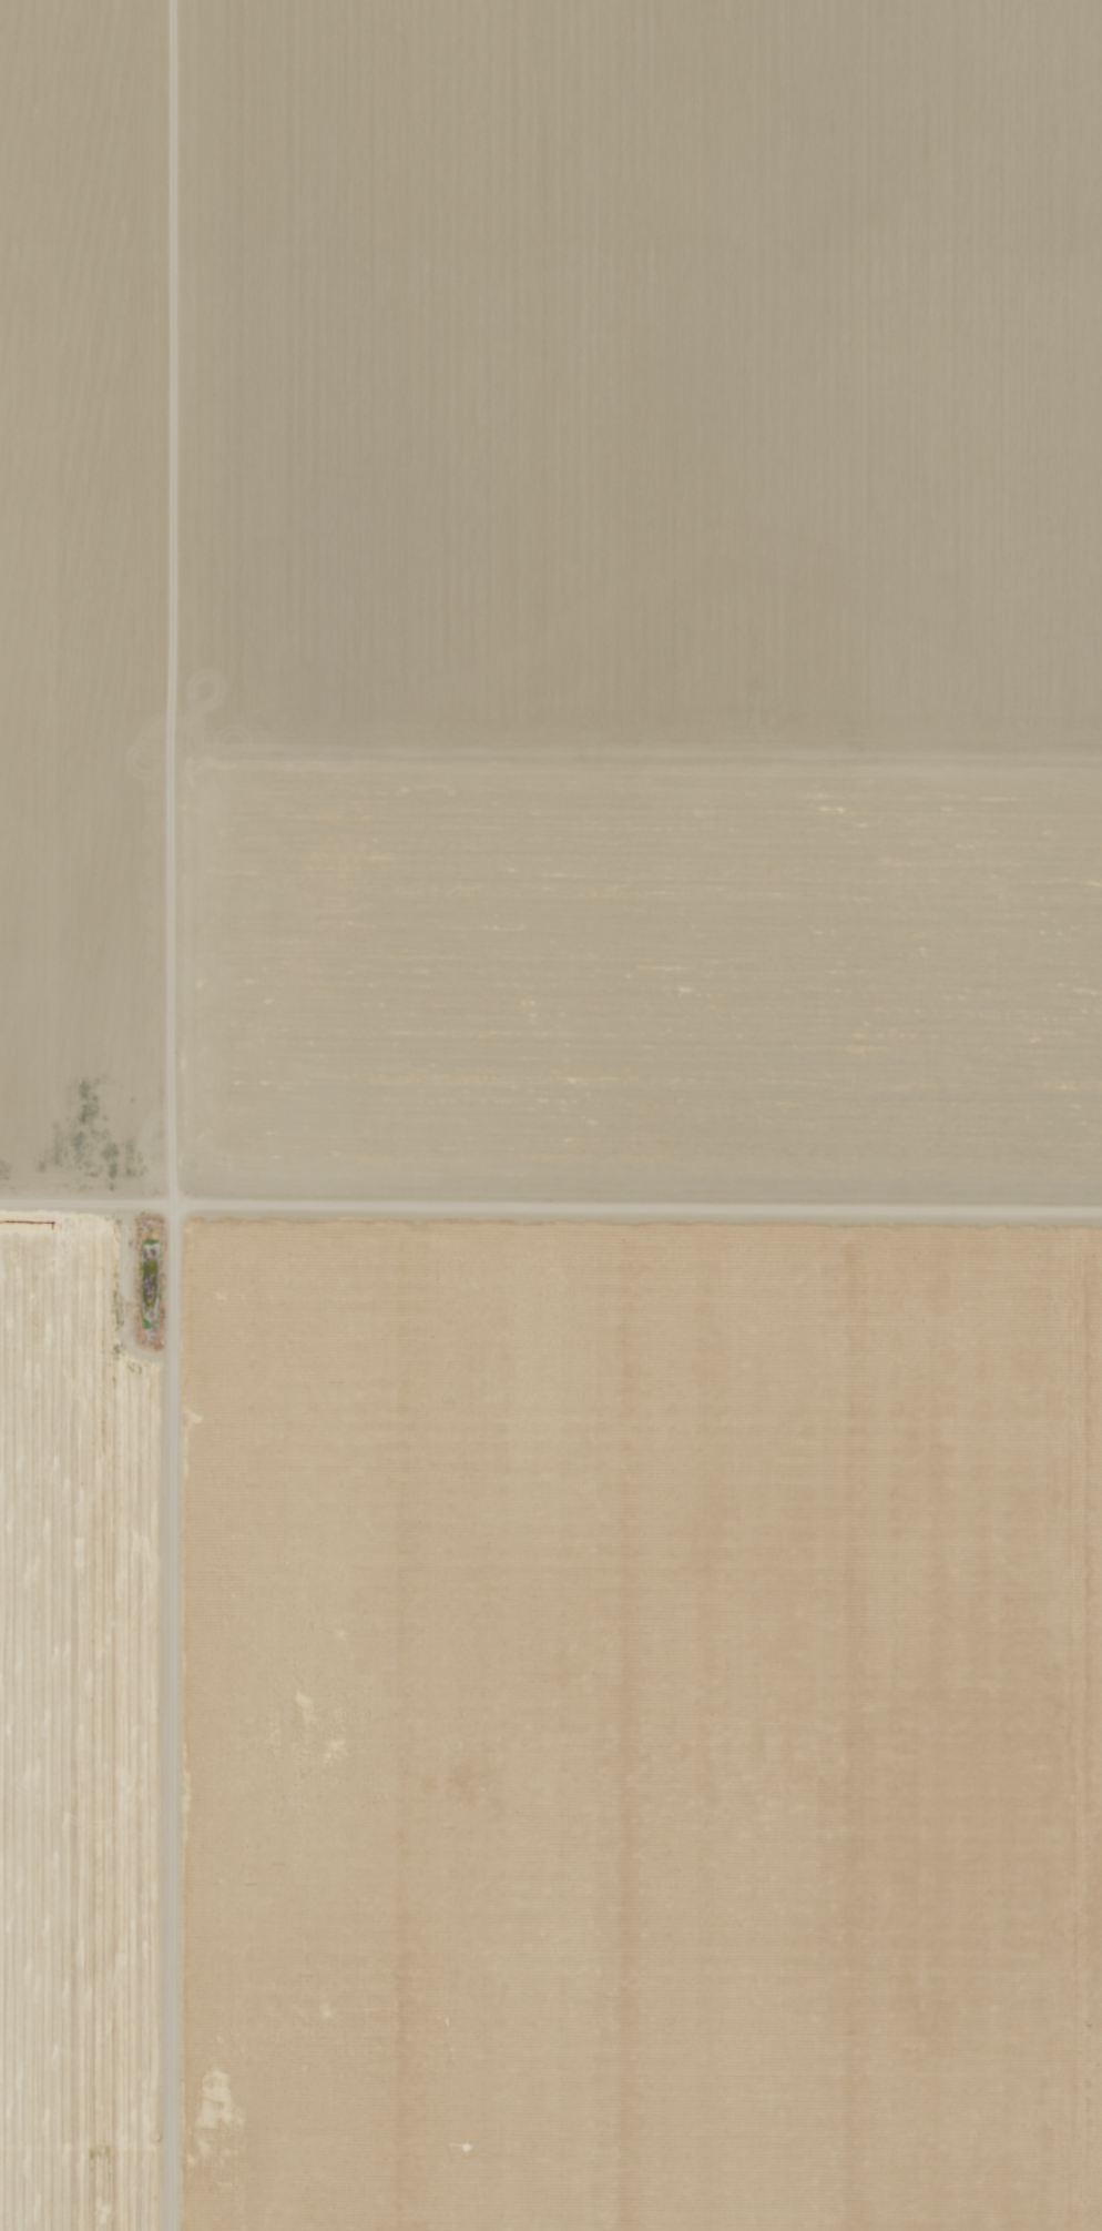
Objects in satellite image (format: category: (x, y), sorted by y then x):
road: (216, 1115)
road: (550, 1197)
crop: (70, 1713)
crop: (621, 1721)

